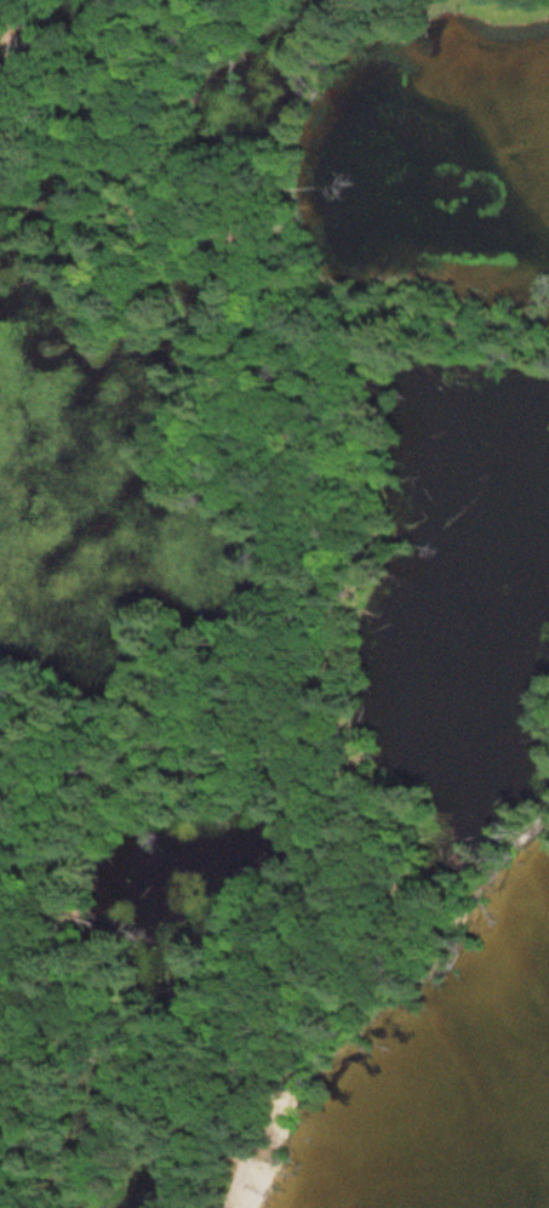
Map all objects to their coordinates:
road: (188, 150)
road: (325, 507)
park: (247, 593)
road: (474, 887)
road: (280, 1061)

